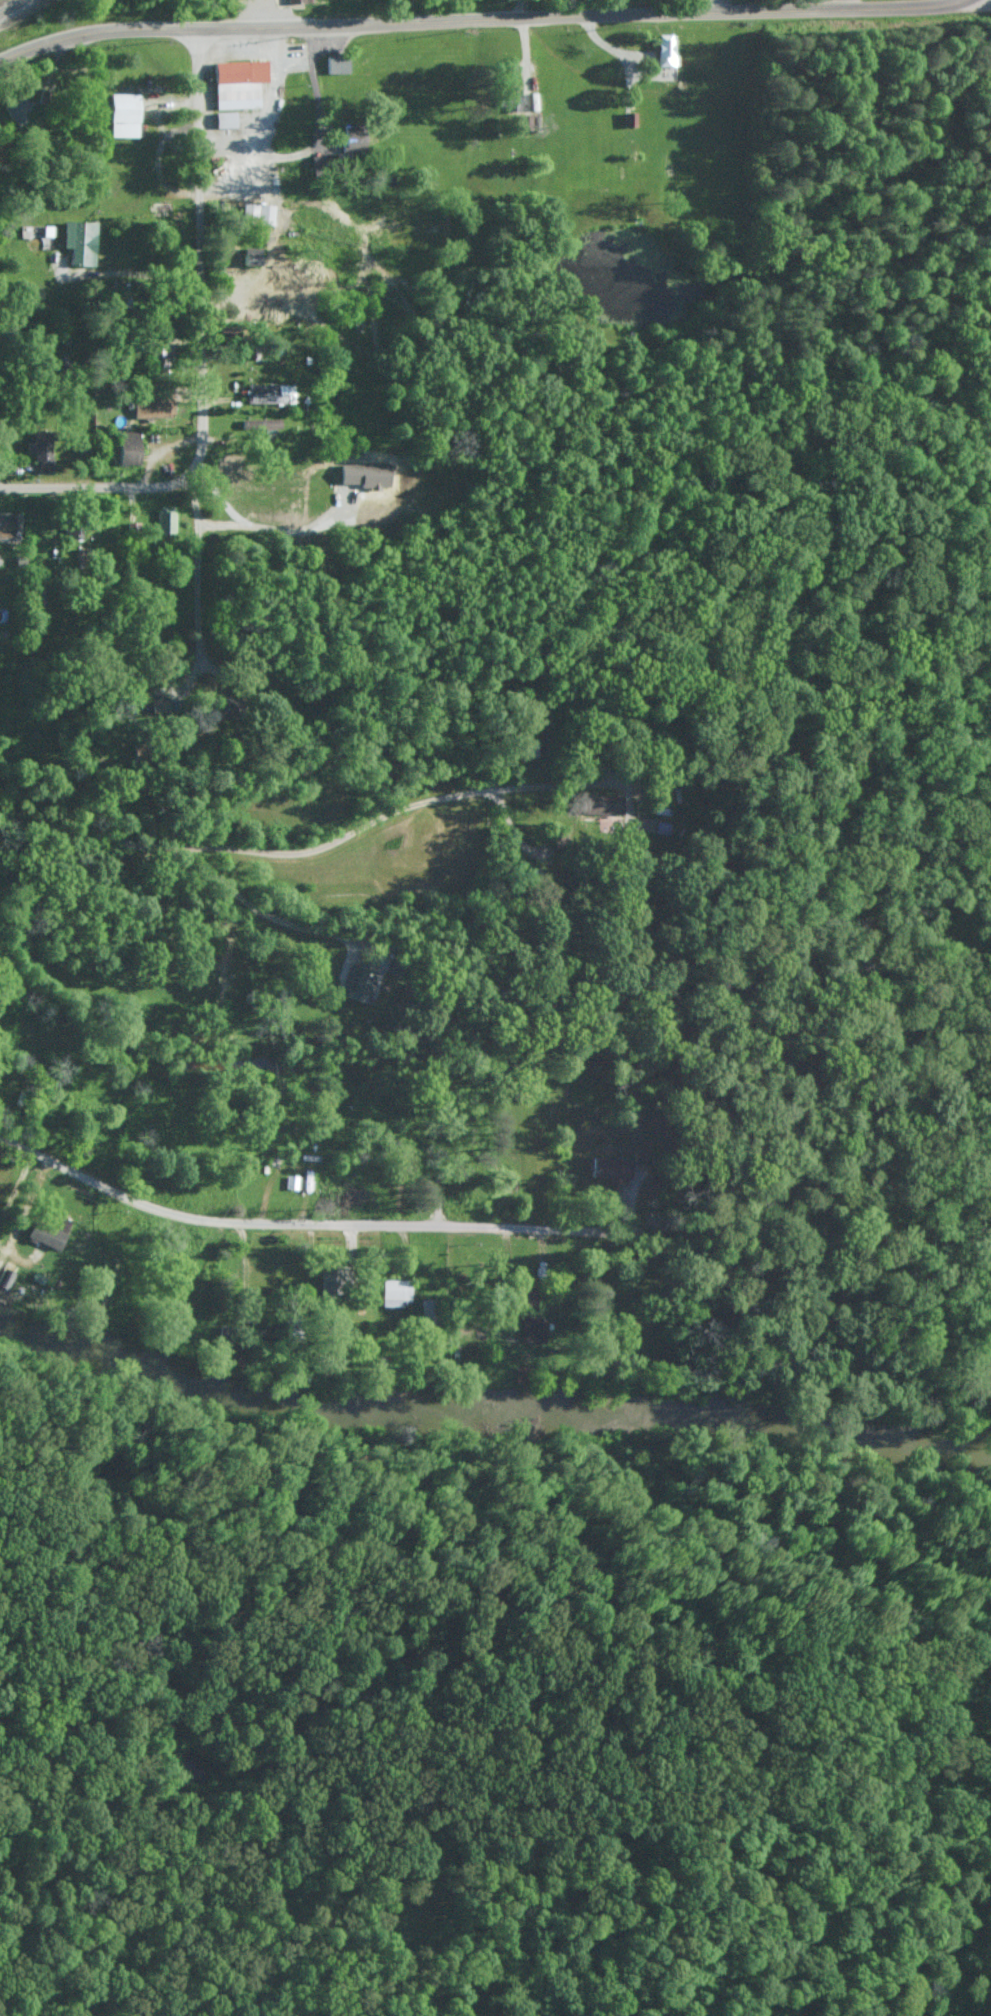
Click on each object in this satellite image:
railway: (12, 6)
road: (984, 6)
road: (984, 6)
road: (482, 19)
building: (662, 51)
building: (335, 64)
building: (234, 83)
building: (505, 98)
building: (17, 109)
building: (120, 115)
building: (221, 119)
building: (627, 119)
building: (254, 214)
building: (36, 229)
building: (82, 241)
building: (244, 256)
road: (198, 350)
building: (272, 392)
building: (153, 407)
building: (261, 422)
building: (39, 442)
building: (132, 446)
road: (92, 486)
building: (167, 519)
building: (10, 524)
building: (84, 555)
building: (599, 803)
road: (291, 849)
road: (255, 908)
building: (356, 981)
building: (604, 1168)
road: (312, 1226)
building: (43, 1233)
building: (2, 1279)
building: (390, 1292)
building: (524, 1293)
building: (525, 1329)
river: (488, 1412)
road: (559, 1774)

